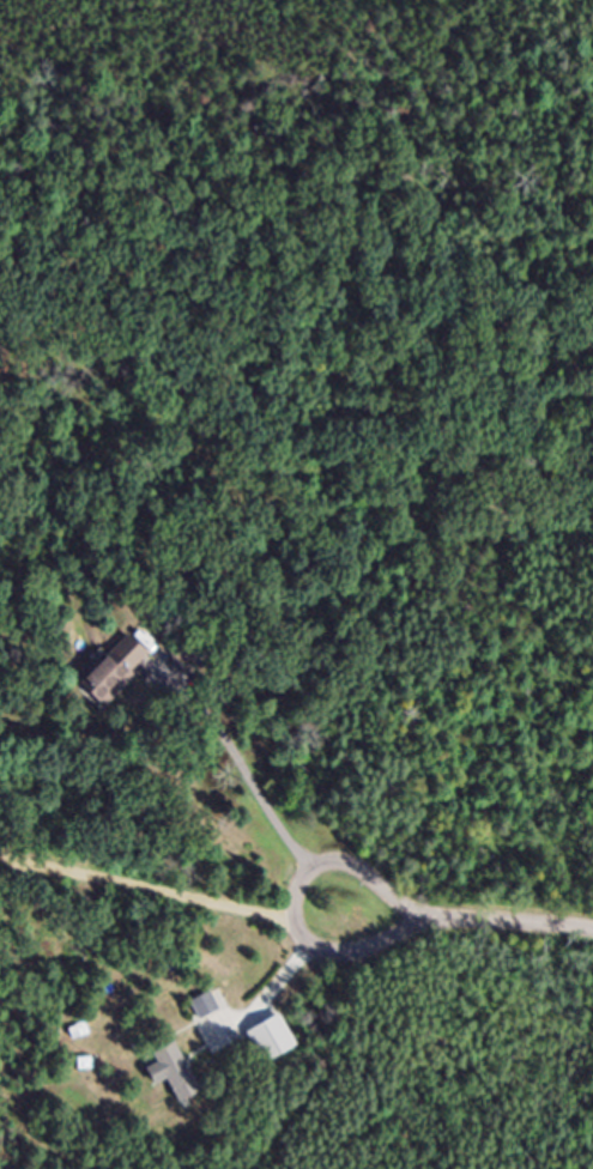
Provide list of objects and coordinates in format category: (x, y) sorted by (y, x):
building: (121, 678)
road: (244, 769)
road: (150, 884)
road: (444, 920)
road: (521, 922)
road: (304, 928)
road: (270, 987)
building: (210, 1013)
building: (277, 1047)
building: (178, 1080)

